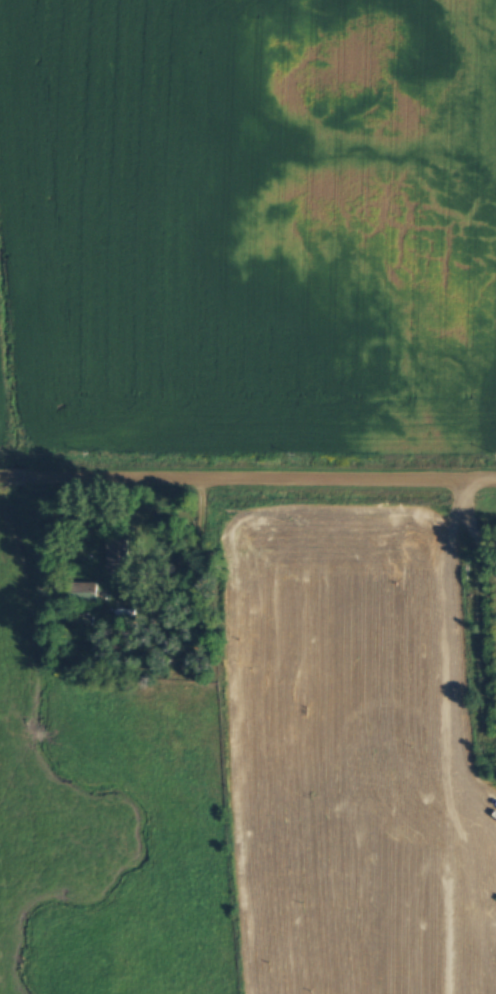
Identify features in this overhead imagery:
road: (248, 478)

